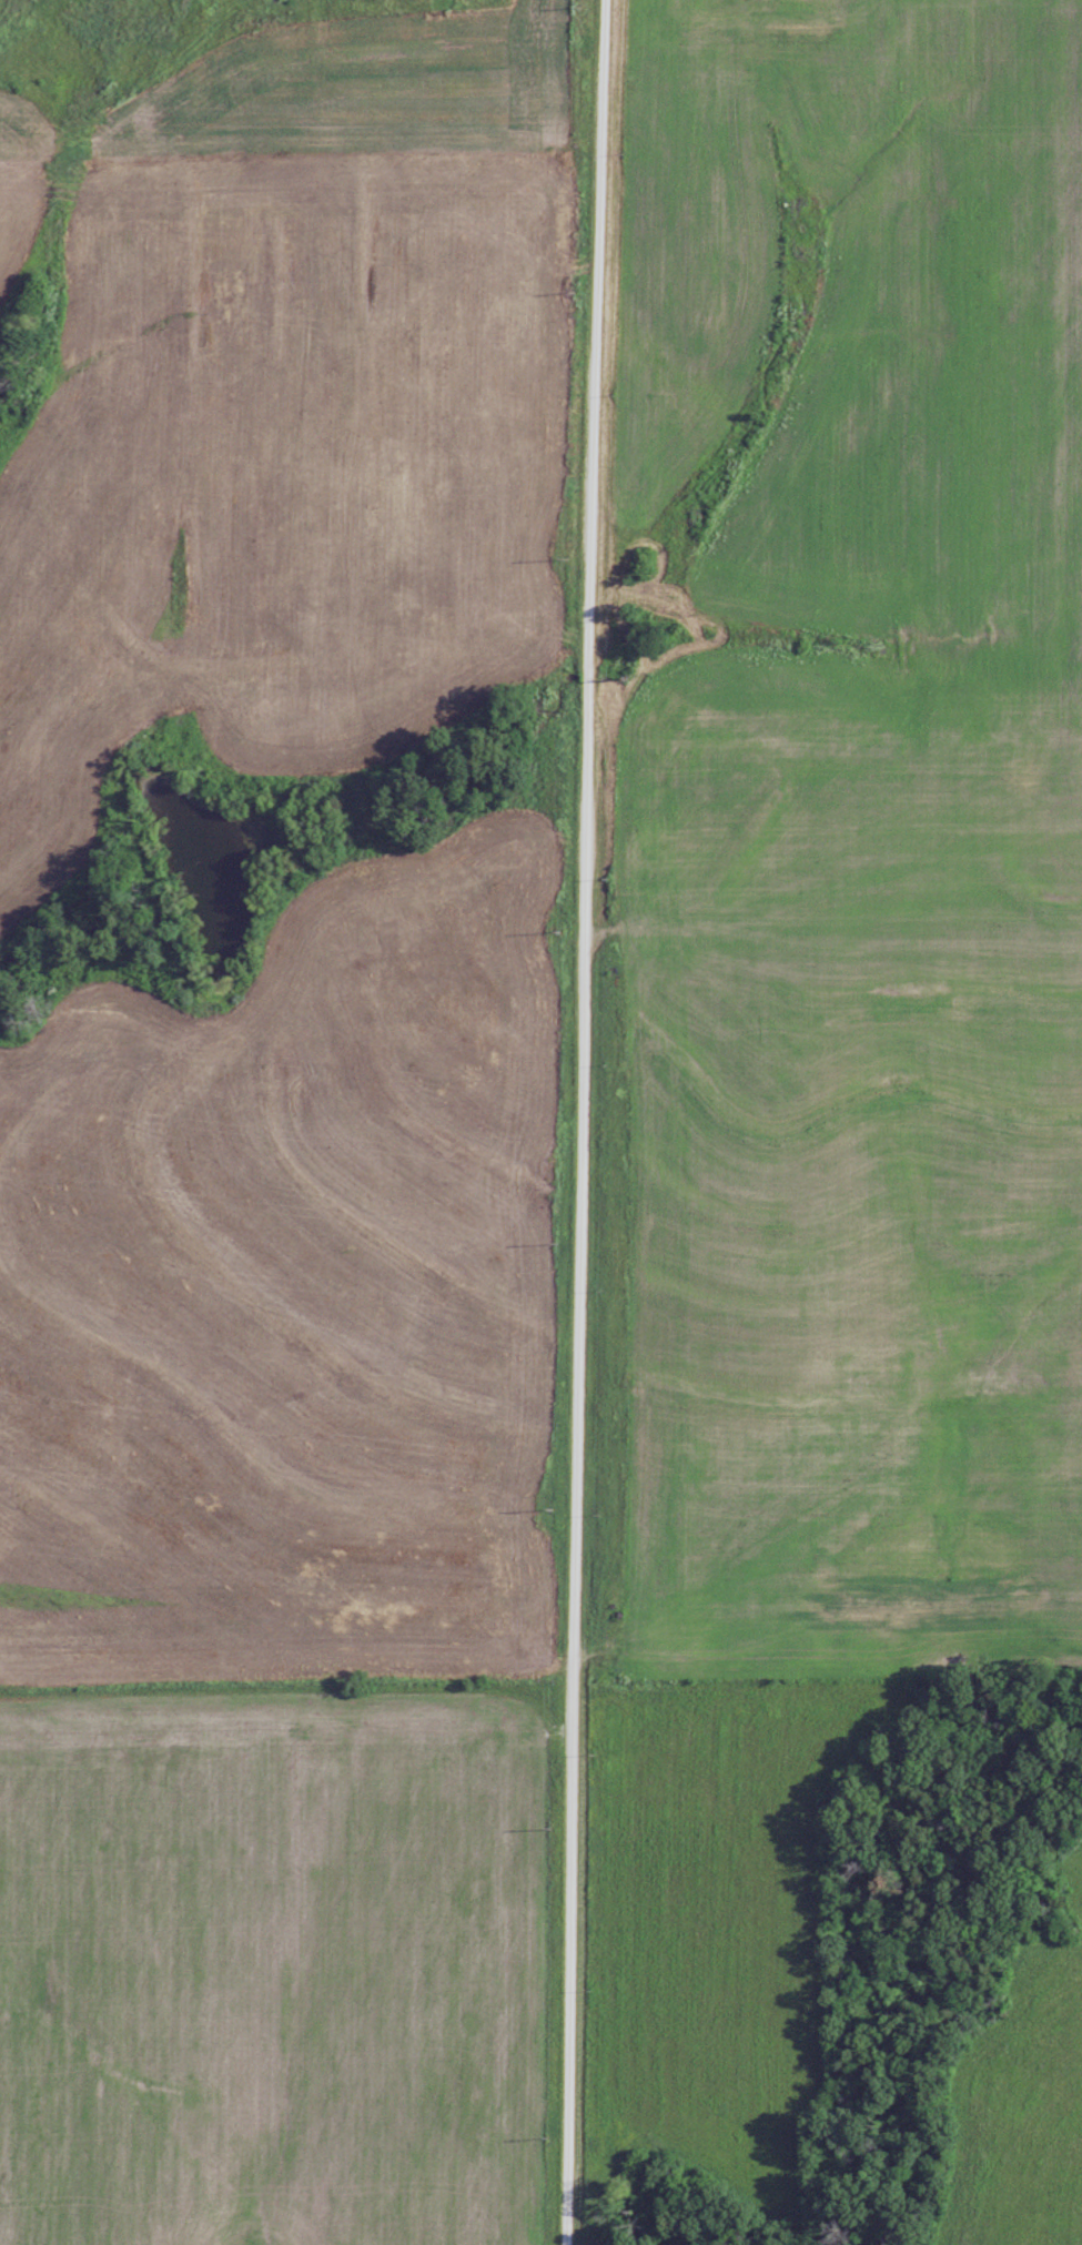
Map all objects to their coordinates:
road: (584, 1122)

